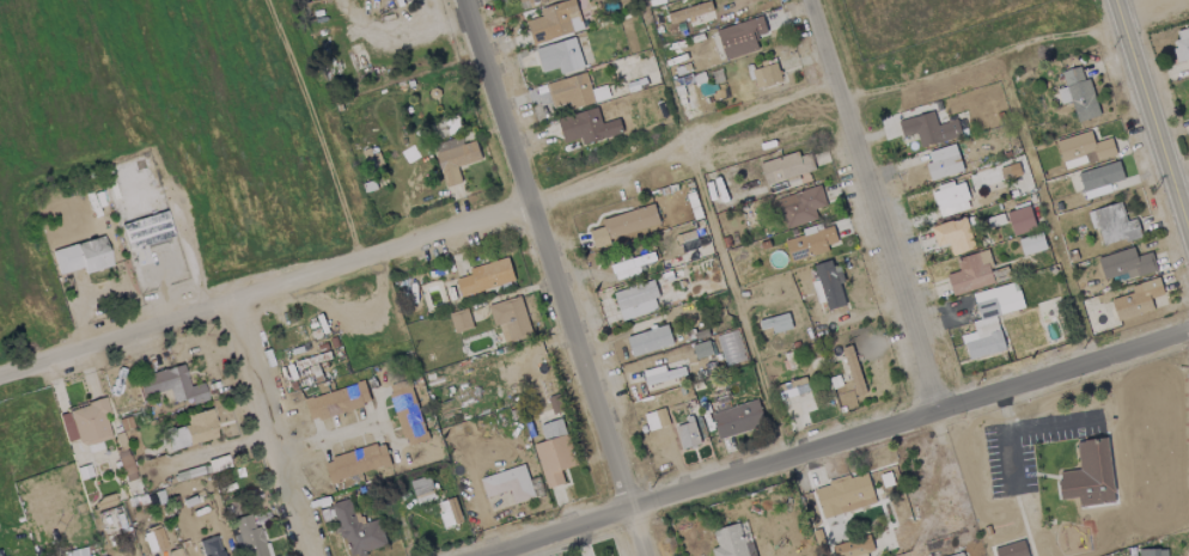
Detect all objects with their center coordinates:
building: (530, 2)
road: (1129, 4)
building: (684, 13)
building: (554, 22)
building: (739, 37)
building: (1181, 44)
building: (559, 56)
road: (978, 59)
building: (766, 75)
building: (1188, 88)
building: (571, 91)
building: (1077, 94)
road: (1152, 116)
building: (443, 127)
building: (586, 127)
building: (928, 129)
building: (1083, 149)
building: (453, 158)
building: (943, 161)
building: (785, 167)
building: (1010, 171)
building: (1098, 178)
building: (950, 198)
road: (868, 204)
building: (800, 206)
building: (1019, 220)
building: (624, 224)
building: (1112, 224)
building: (145, 228)
building: (952, 236)
road: (420, 240)
building: (1031, 243)
road: (720, 251)
building: (81, 255)
building: (1124, 263)
building: (630, 264)
building: (970, 273)
building: (484, 276)
road: (553, 277)
building: (829, 283)
building: (635, 299)
building: (1136, 299)
building: (510, 319)
building: (989, 319)
road: (78, 324)
building: (648, 340)
building: (333, 341)
building: (730, 347)
building: (701, 349)
building: (311, 360)
building: (313, 369)
building: (852, 371)
building: (307, 381)
building: (170, 384)
building: (795, 392)
building: (336, 399)
building: (406, 413)
building: (736, 418)
building: (85, 422)
road: (1047, 422)
road: (268, 428)
building: (191, 429)
building: (690, 433)
road: (1004, 436)
road: (327, 438)
road: (830, 440)
building: (553, 452)
building: (355, 462)
building: (124, 464)
building: (1087, 475)
building: (506, 487)
building: (421, 489)
building: (843, 495)
building: (449, 512)
building: (356, 528)
building: (153, 537)
building: (249, 537)
building: (732, 540)
building: (211, 546)
building: (853, 546)
building: (1011, 549)
building: (169, 552)
building: (1152, 552)

